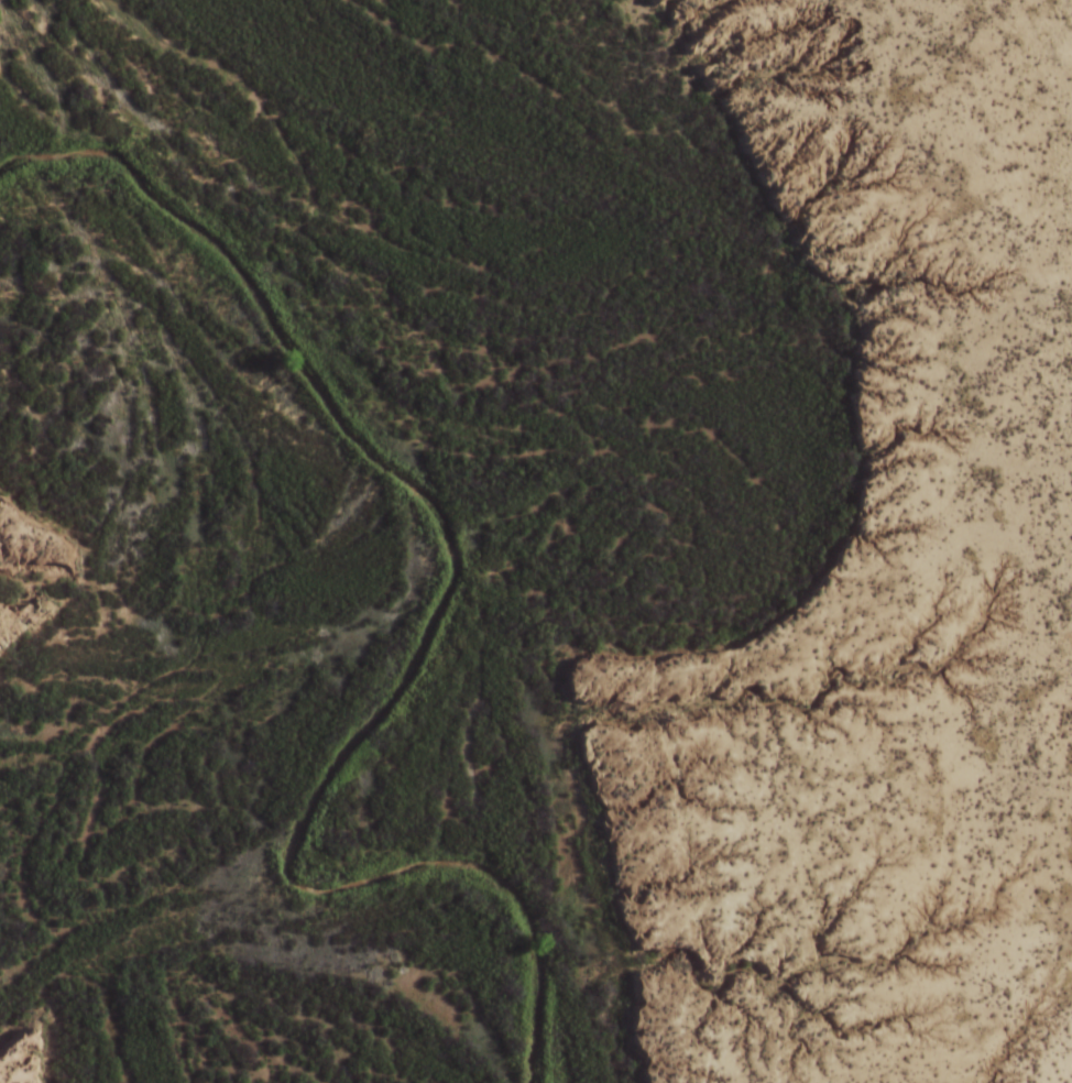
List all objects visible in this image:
river: (325, 523)

